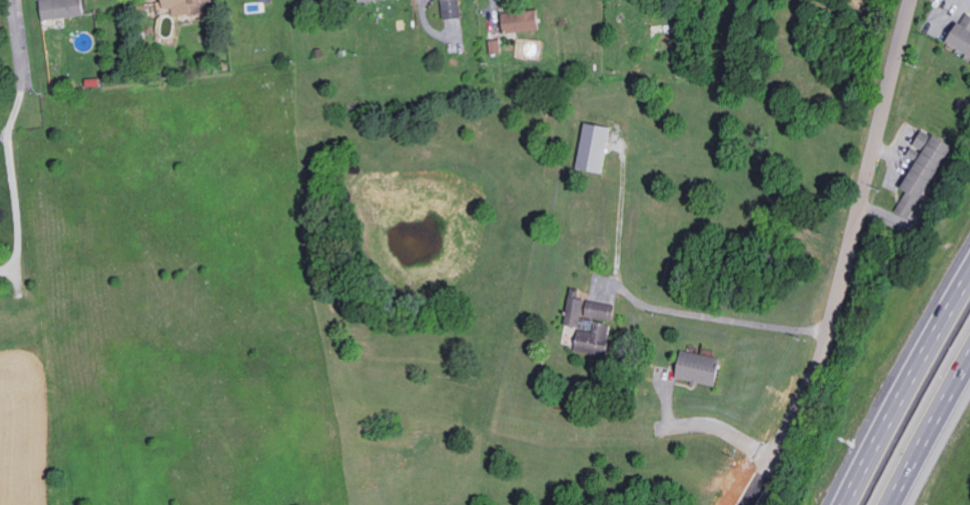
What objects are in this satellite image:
building: (187, 6)
building: (64, 8)
building: (454, 8)
building: (524, 20)
road: (430, 26)
building: (964, 35)
road: (17, 37)
building: (497, 46)
building: (597, 146)
building: (931, 161)
road: (12, 176)
building: (912, 205)
road: (848, 259)
road: (719, 317)
building: (595, 340)
building: (703, 368)
road: (907, 392)
road: (723, 430)
road: (935, 442)

